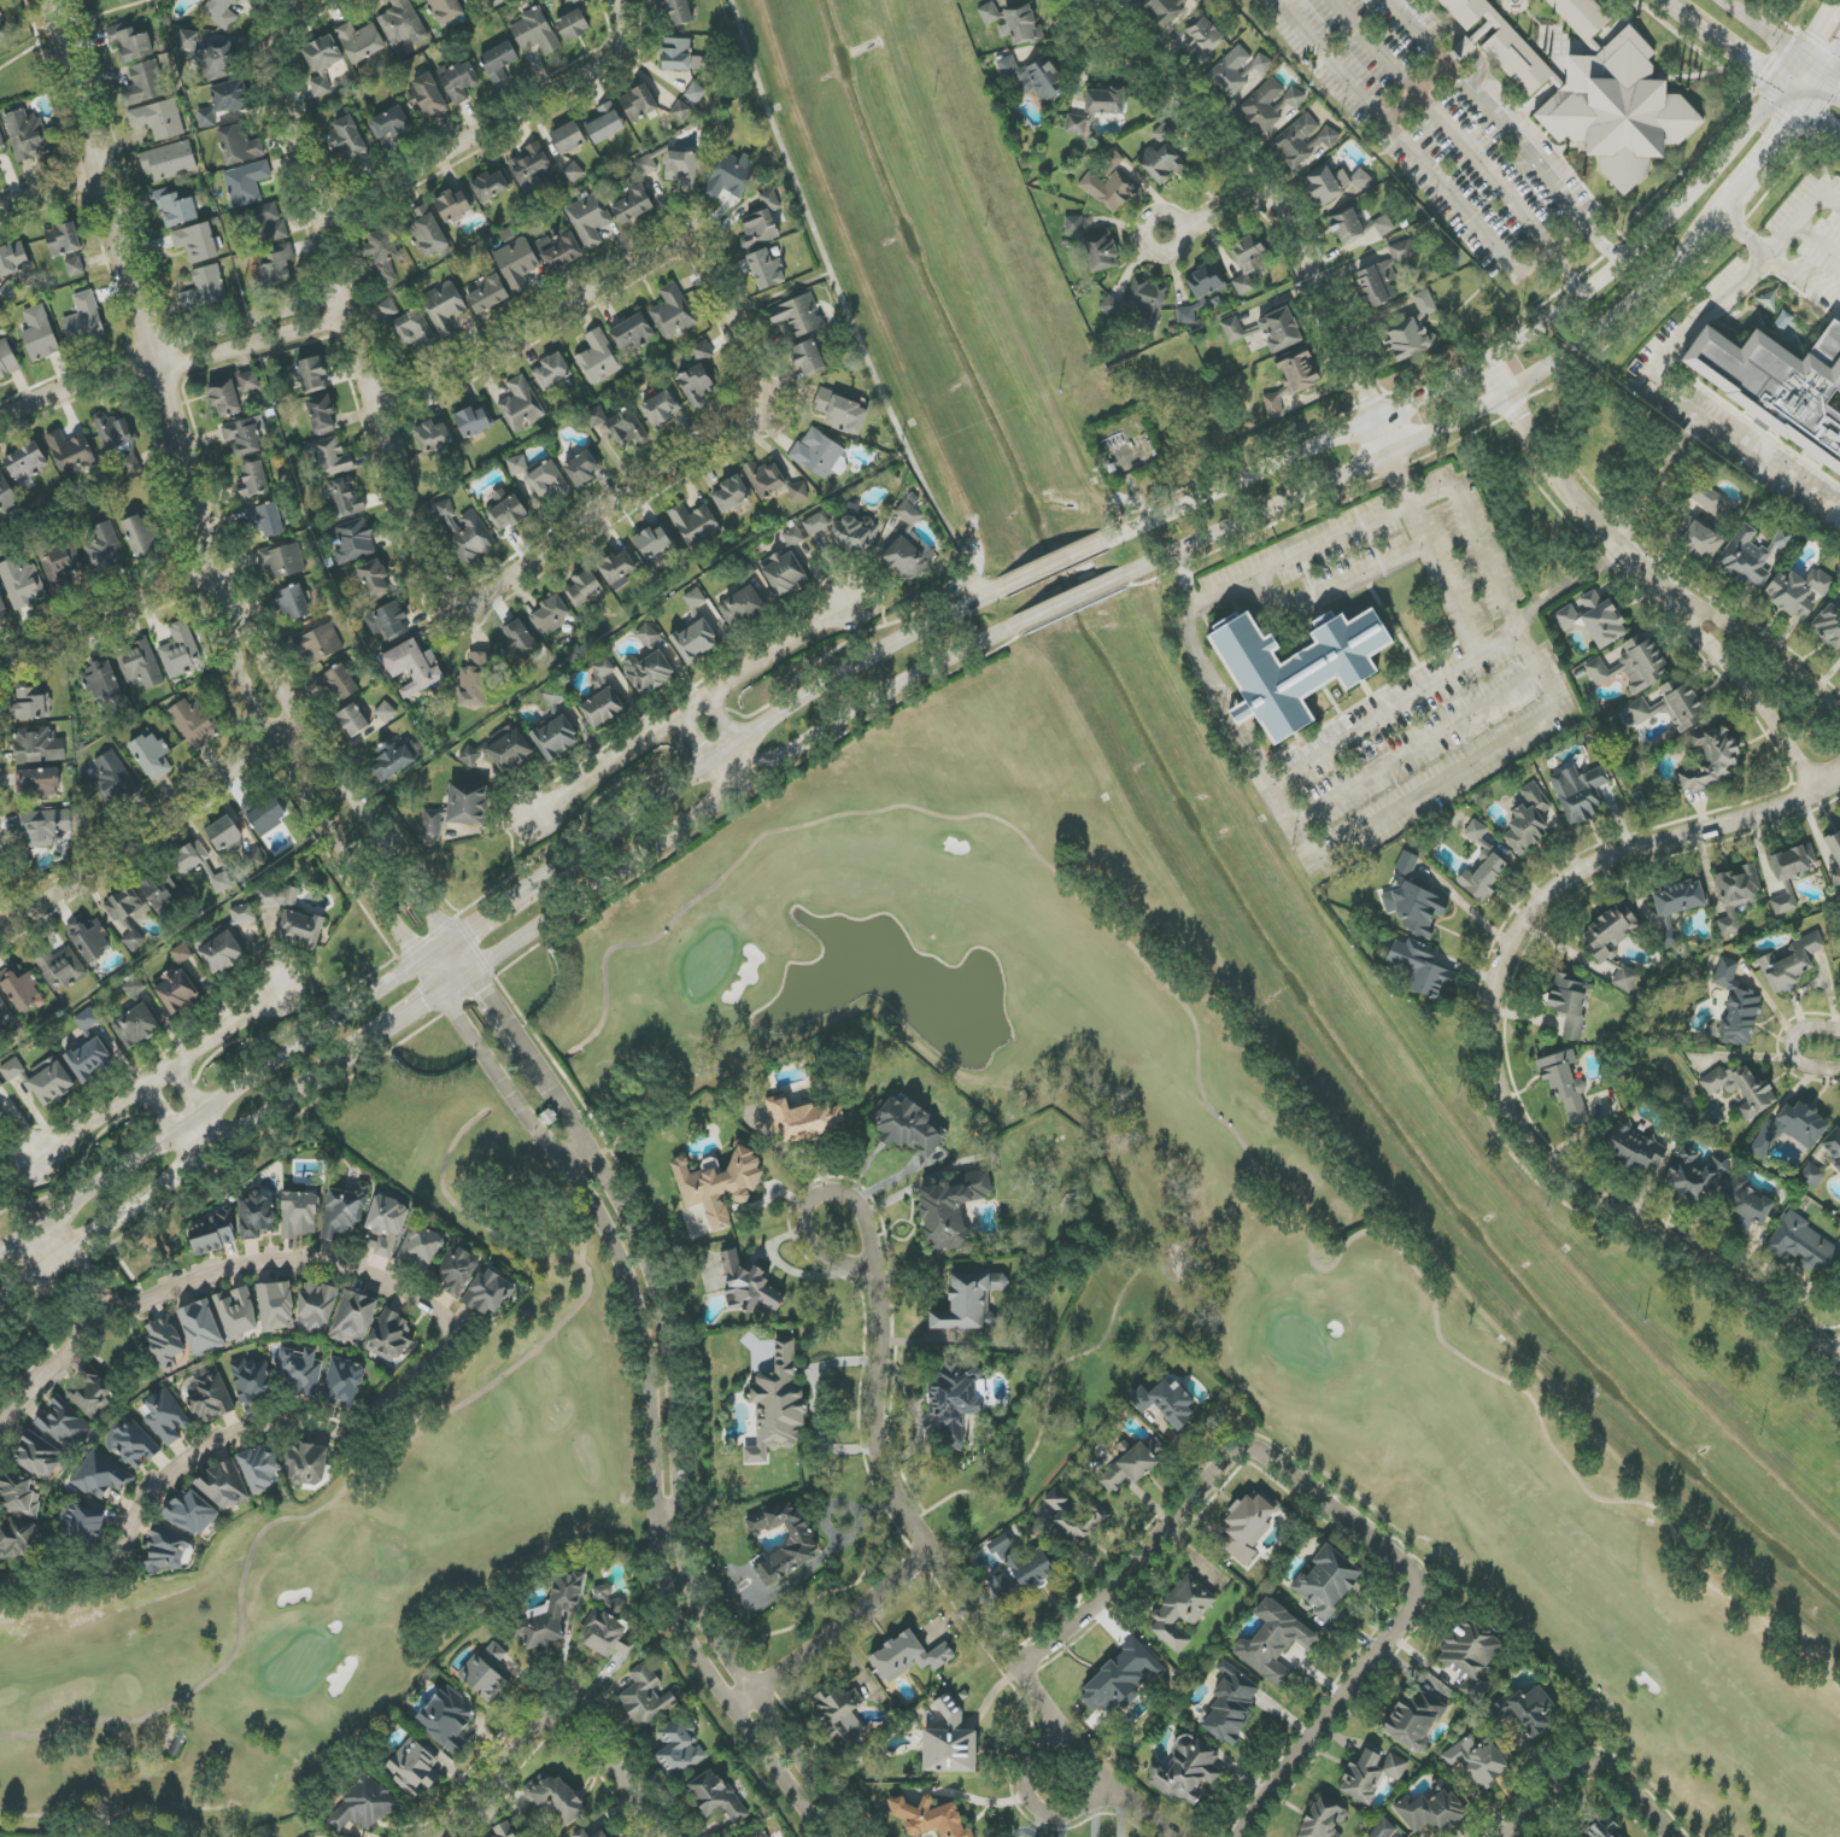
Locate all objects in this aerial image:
building: (468, 1)
building: (494, 2)
building: (446, 10)
building: (1171, 10)
building: (676, 11)
building: (221, 12)
building: (989, 13)
road: (1683, 14)
building: (400, 23)
building: (573, 25)
building: (1020, 25)
building: (2, 29)
road: (1424, 30)
road: (1820, 30)
building: (534, 33)
building: (1203, 39)
traffic signals: (1815, 39)
road: (1781, 40)
building: (188, 41)
building: (361, 41)
building: (129, 42)
building: (1464, 48)
building: (322, 54)
road: (19, 57)
road: (1740, 58)
building: (499, 60)
building: (217, 62)
building: (1261, 63)
traffic signals: (1756, 71)
road: (1789, 72)
building: (1032, 77)
building: (459, 81)
road: (1822, 83)
road: (1833, 83)
building: (143, 84)
building: (320, 86)
building: (1593, 88)
road: (1414, 90)
road: (52, 92)
building: (695, 93)
building: (229, 96)
building: (427, 96)
building: (1294, 98)
building: (1104, 101)
building: (639, 104)
building: (1262, 106)
building: (680, 111)
road: (1809, 112)
building: (206, 118)
building: (158, 119)
building: (388, 123)
building: (605, 124)
building: (1078, 124)
traffic signals: (1794, 125)
road: (497, 130)
building: (25, 134)
road: (1786, 135)
building: (1328, 136)
building: (347, 138)
building: (568, 138)
building: (1295, 141)
road: (1461, 144)
building: (1, 145)
building: (239, 145)
road: (1412, 153)
building: (169, 160)
road: (1533, 162)
building: (646, 165)
building: (529, 166)
building: (681, 169)
building: (574, 172)
building: (728, 175)
building: (1334, 182)
building: (246, 183)
building: (1109, 183)
road: (1707, 183)
building: (492, 185)
road: (47, 193)
road: (1252, 199)
building: (633, 204)
building: (453, 205)
building: (175, 207)
road: (1801, 217)
road: (1208, 218)
building: (590, 220)
building: (263, 223)
building: (1073, 224)
building: (1384, 224)
building: (1347, 226)
building: (427, 230)
road: (1567, 236)
building: (63, 239)
road: (1817, 240)
building: (197, 242)
building: (559, 251)
building: (1101, 252)
building: (381, 255)
building: (13, 258)
building: (1248, 259)
building: (517, 264)
building: (75, 267)
building: (279, 267)
building: (764, 269)
building: (1383, 275)
building: (1206, 280)
building: (204, 288)
building: (8, 291)
road: (779, 293)
building: (488, 294)
building: (1147, 303)
building: (1425, 303)
road: (844, 305)
building: (387, 308)
building: (445, 308)
building: (673, 312)
building: (1189, 315)
road: (1555, 315)
building: (797, 316)
building: (84, 321)
building: (1782, 322)
building: (414, 328)
road: (1595, 328)
building: (1232, 329)
building: (1281, 330)
building: (632, 333)
building: (40, 334)
building: (1411, 341)
road: (142, 343)
road: (354, 347)
road: (744, 350)
building: (598, 357)
building: (808, 358)
building: (7, 361)
road: (168, 361)
building: (1299, 369)
building: (552, 370)
building: (311, 374)
road: (444, 376)
road: (1648, 378)
building: (698, 379)
building: (247, 382)
building: (1777, 386)
building: (223, 396)
road: (1435, 396)
building: (521, 405)
building: (1272, 405)
building: (661, 408)
building: (842, 413)
building: (322, 415)
building: (475, 421)
building: (620, 426)
building: (113, 434)
building: (244, 435)
building: (433, 435)
road: (1383, 437)
building: (71, 454)
building: (330, 457)
building: (129, 463)
building: (27, 464)
building: (517, 464)
building: (582, 468)
building: (764, 478)
road: (1247, 478)
building: (254, 479)
building: (549, 481)
road: (1662, 481)
building: (798, 492)
building: (6, 495)
building: (732, 495)
road: (1575, 497)
building: (1706, 497)
building: (345, 498)
building: (506, 509)
road: (1265, 511)
building: (266, 519)
building: (695, 525)
building: (465, 533)
building: (839, 533)
building: (140, 534)
building: (793, 537)
building: (1698, 537)
building: (354, 542)
building: (654, 542)
building: (907, 546)
building: (104, 549)
building: (1752, 556)
building: (282, 561)
building: (59, 563)
road: (1054, 566)
road: (1278, 566)
building: (619, 568)
building: (784, 572)
building: (374, 578)
building: (22, 584)
road: (1341, 585)
building: (585, 587)
building: (1798, 592)
building: (695, 598)
road: (1074, 601)
building: (293, 602)
building: (742, 605)
building: (2, 609)
building: (551, 614)
building: (1593, 619)
building: (388, 621)
road: (105, 624)
building: (1829, 625)
road: (1470, 630)
building: (647, 634)
building: (696, 640)
building: (520, 642)
building: (318, 644)
road: (1768, 648)
building: (180, 650)
building: (412, 665)
building: (1633, 665)
building: (141, 667)
building: (1296, 668)
building: (650, 672)
road: (854, 673)
building: (602, 674)
building: (101, 679)
building: (341, 683)
building: (473, 686)
building: (409, 690)
road: (1756, 694)
building: (31, 704)
building: (1669, 707)
building: (603, 708)
road: (696, 710)
building: (386, 712)
road: (1373, 714)
building: (353, 720)
road: (720, 721)
building: (193, 722)
road: (697, 737)
building: (555, 738)
road: (1414, 743)
building: (37, 745)
building: (500, 750)
building: (151, 756)
building: (394, 757)
building: (1710, 760)
road: (728, 766)
building: (113, 779)
building: (37, 783)
road: (1435, 788)
road: (732, 789)
building: (1580, 792)
building: (467, 805)
road: (359, 807)
road: (627, 813)
building: (264, 814)
building: (1529, 820)
road: (332, 823)
building: (432, 825)
building: (45, 827)
building: (1475, 831)
road: (139, 835)
building: (225, 836)
building: (254, 858)
building: (1834, 859)
building: (1406, 864)
building: (1794, 864)
building: (200, 866)
building: (1483, 878)
building: (152, 891)
building: (1736, 895)
building: (277, 896)
building: (1678, 899)
building: (1785, 903)
building: (123, 905)
building: (1416, 907)
road: (493, 909)
road: (0, 926)
building: (301, 928)
building: (1610, 931)
building: (90, 940)
building: (133, 941)
building: (227, 942)
road: (435, 952)
building: (182, 953)
building: (1791, 964)
building: (1420, 969)
building: (1624, 979)
road: (429, 981)
road: (458, 985)
building: (134, 987)
building: (22, 990)
building: (177, 990)
road: (487, 993)
building: (1570, 1004)
building: (1736, 1006)
building: (5, 1013)
road: (410, 1018)
building: (87, 1019)
building: (136, 1026)
road: (1489, 1042)
road: (1791, 1046)
building: (89, 1059)
building: (12, 1070)
road: (165, 1075)
building: (52, 1083)
building: (1, 1084)
building: (1565, 1084)
building: (1740, 1089)
road: (207, 1106)
building: (0, 1113)
building: (803, 1118)
building: (910, 1128)
building: (1791, 1129)
building: (1635, 1146)
building: (1833, 1146)
road: (217, 1156)
road: (575, 1159)
building: (1694, 1174)
building: (1812, 1176)
road: (189, 1177)
building: (719, 1186)
road: (811, 1200)
building: (1747, 1206)
building: (950, 1210)
building: (344, 1211)
building: (299, 1215)
building: (257, 1216)
building: (386, 1225)
building: (213, 1234)
building: (1803, 1244)
building: (422, 1247)
park: (1293, 1257)
building: (458, 1271)
road: (65, 1282)
building: (749, 1286)
building: (490, 1293)
building: (968, 1301)
building: (276, 1306)
building: (316, 1307)
building: (238, 1312)
building: (354, 1318)
building: (201, 1328)
building: (391, 1338)
building: (165, 1342)
road: (438, 1356)
road: (1828, 1359)
building: (301, 1370)
building: (251, 1381)
building: (344, 1382)
road: (1828, 1382)
building: (92, 1393)
building: (211, 1398)
building: (778, 1403)
building: (955, 1403)
building: (1165, 1403)
road: (816, 1406)
road: (647, 1412)
road: (1045, 1416)
building: (164, 1417)
road: (875, 1418)
building: (65, 1426)
building: (133, 1444)
road: (678, 1449)
building: (39, 1456)
building: (307, 1463)
building: (1132, 1467)
building: (262, 1469)
building: (101, 1475)
building: (223, 1485)
building: (18, 1496)
road: (1337, 1511)
building: (192, 1514)
road: (668, 1516)
building: (1076, 1517)
building: (84, 1522)
building: (757, 1523)
building: (1247, 1527)
building: (17, 1539)
road: (839, 1539)
building: (786, 1546)
building: (166, 1550)
building: (1021, 1575)
building: (1328, 1581)
building: (552, 1613)
building: (1182, 1613)
building: (608, 1627)
road: (832, 1631)
building: (1273, 1642)
building: (908, 1656)
building: (1472, 1656)
building: (485, 1673)
building: (1115, 1683)
building: (646, 1696)
road: (1042, 1703)
building: (1231, 1706)
road: (555, 1710)
building: (1525, 1710)
building: (840, 1715)
building: (447, 1718)
building: (1414, 1720)
building: (950, 1743)
building: (678, 1748)
building: (1477, 1760)
building: (414, 1768)
road: (1581, 1768)
building: (1185, 1769)
building: (1371, 1774)
building: (715, 1796)
building: (557, 1801)
road: (1035, 1803)
building: (362, 1807)
building: (1431, 1809)
building: (931, 1818)
building: (1323, 1820)
building: (1383, 1829)
building: (504, 1830)
building: (1599, 1831)
building: (594, 1832)

